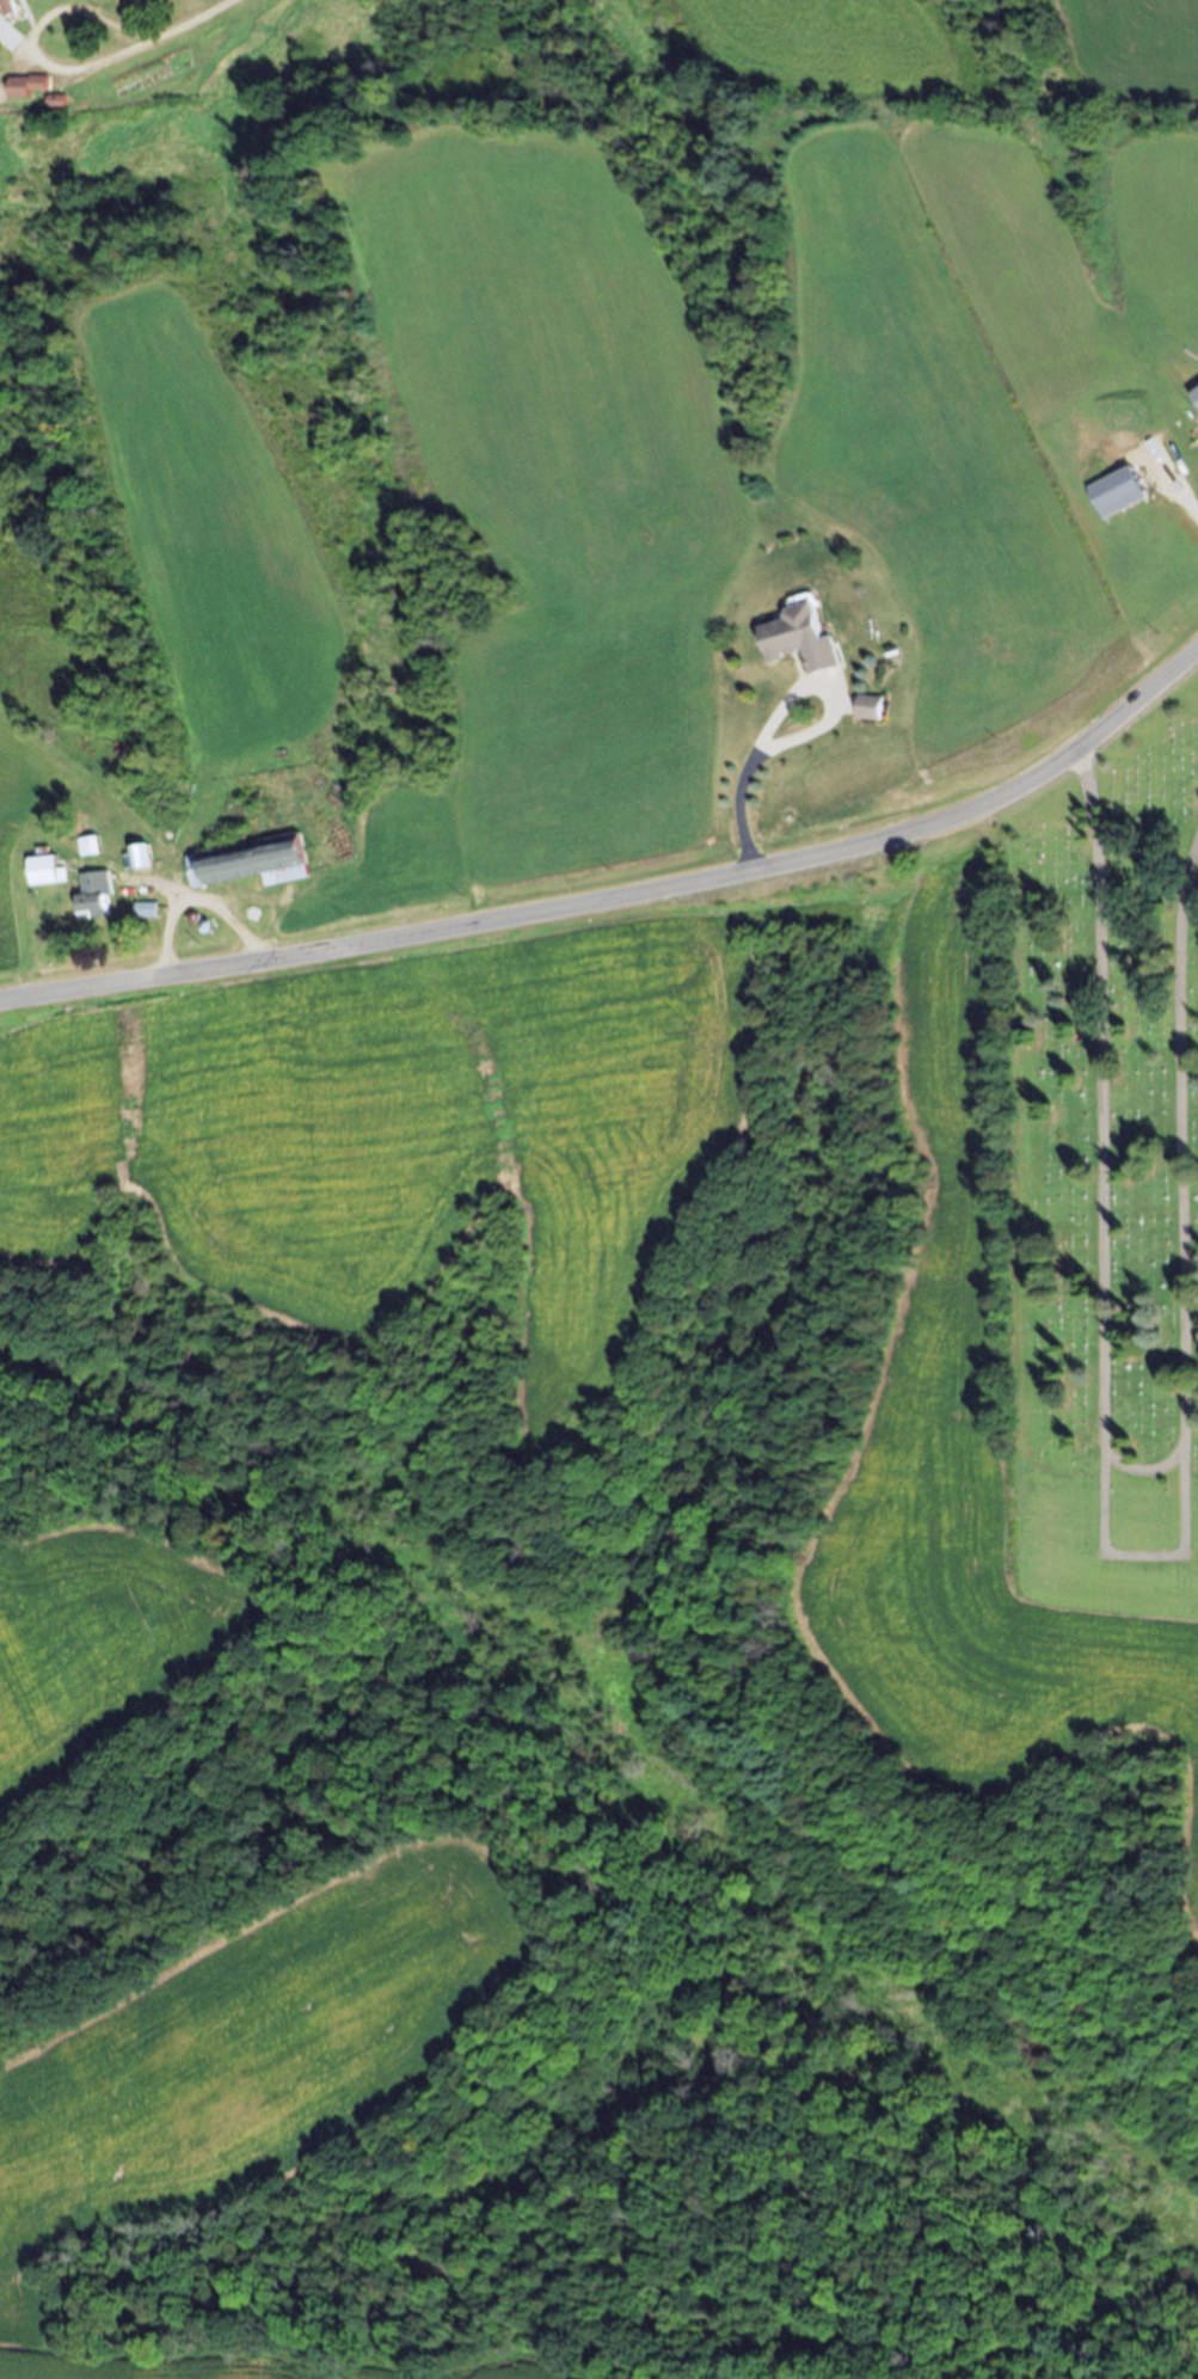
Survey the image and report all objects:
building: (6, 8)
road: (193, 19)
road: (45, 63)
building: (26, 87)
road: (1174, 486)
building: (800, 639)
building: (870, 707)
building: (248, 860)
road: (770, 866)
building: (47, 867)
building: (97, 894)
building: (148, 908)
road: (147, 979)

